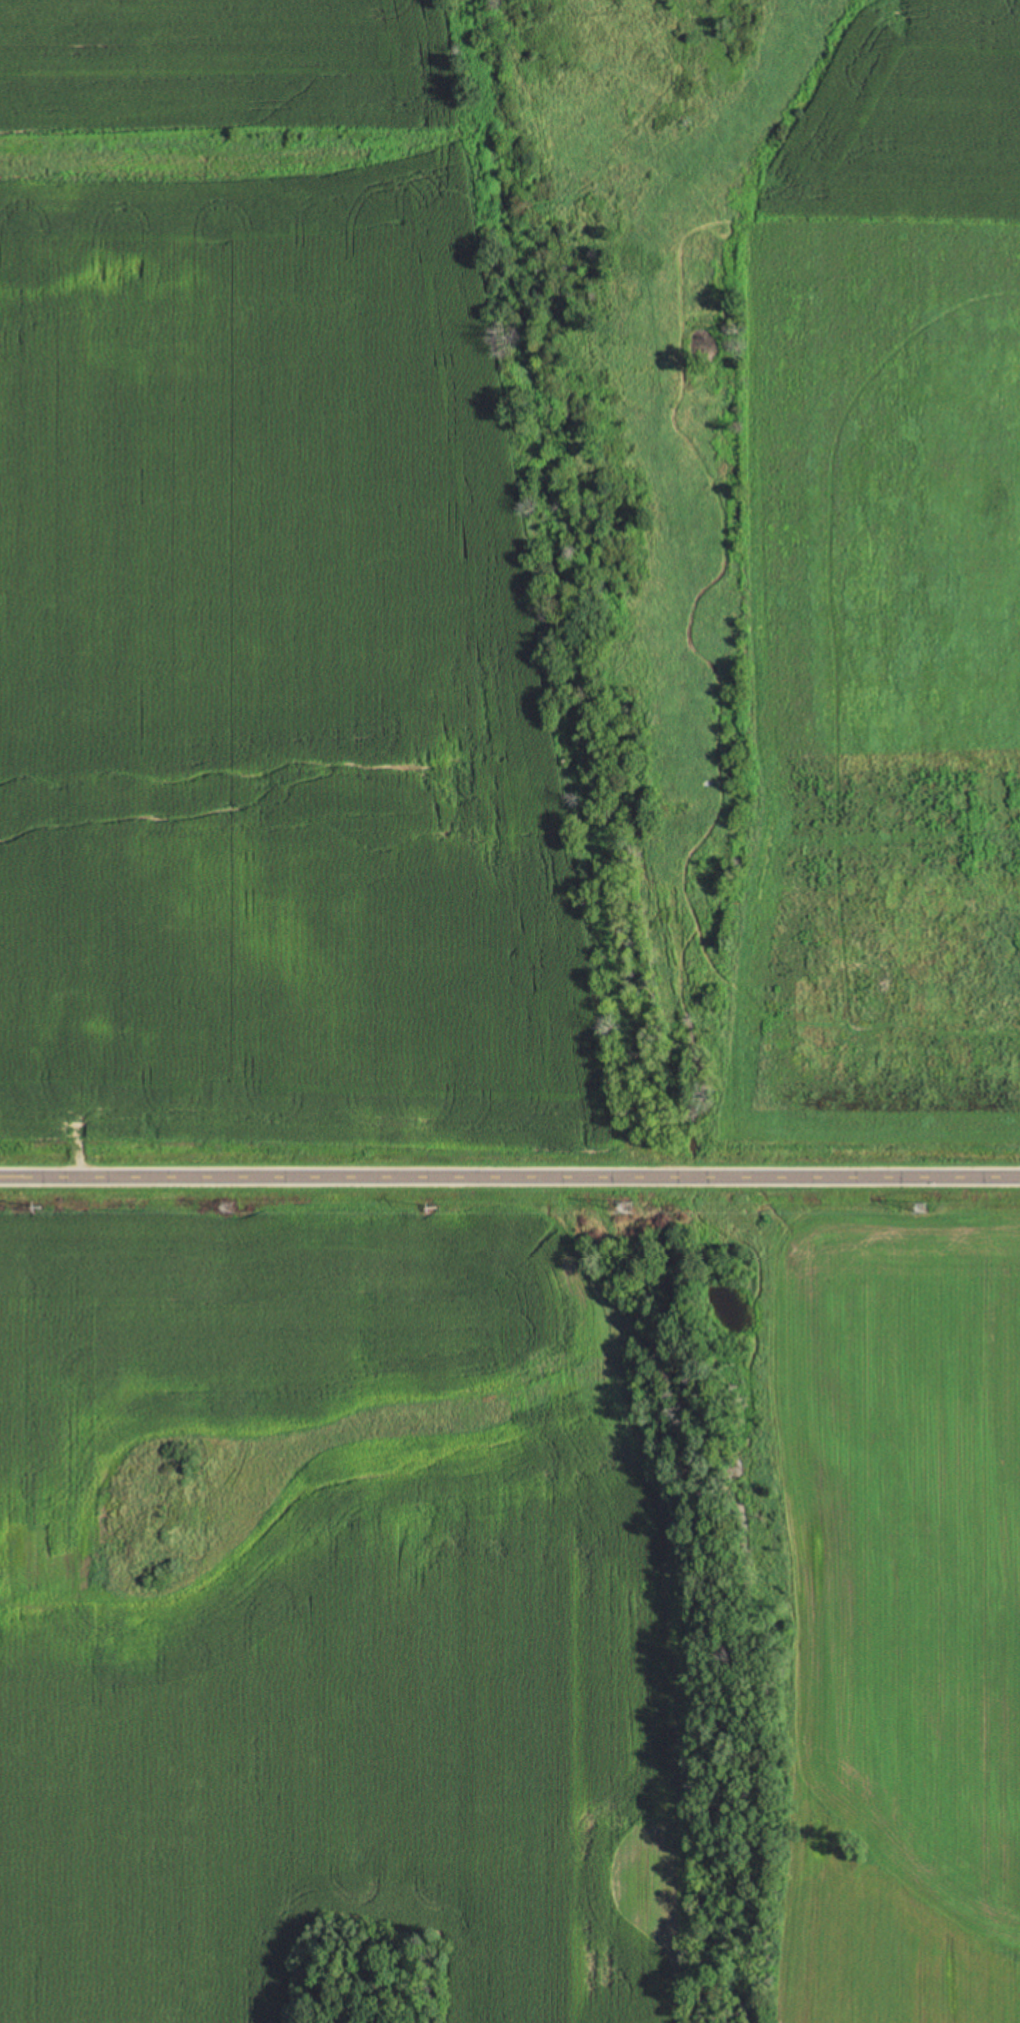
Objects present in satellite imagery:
road: (510, 1171)
power tower: (228, 1209)
power tower: (625, 1209)
power tower: (922, 1209)

